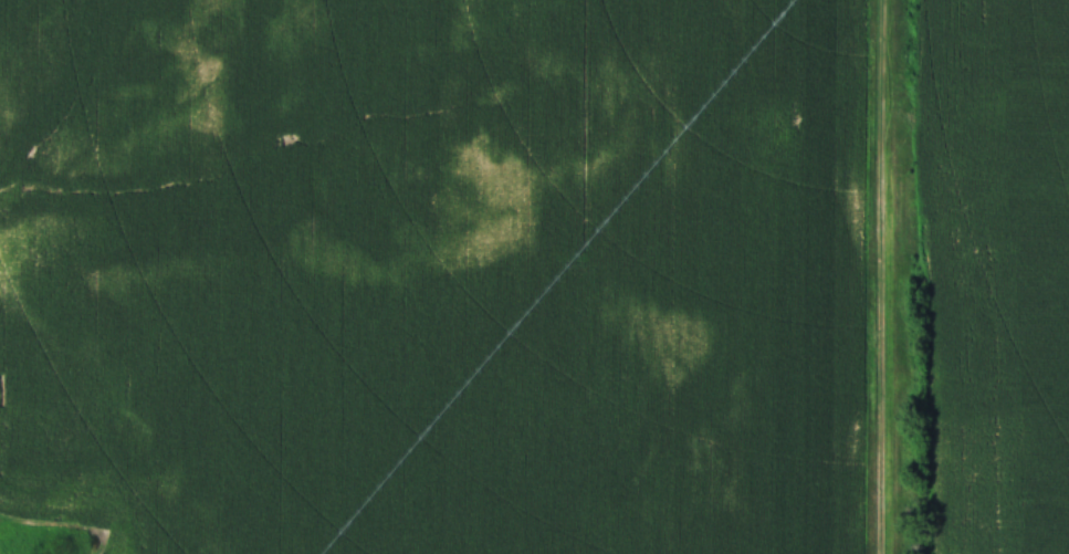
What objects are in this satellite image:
road: (919, 276)

